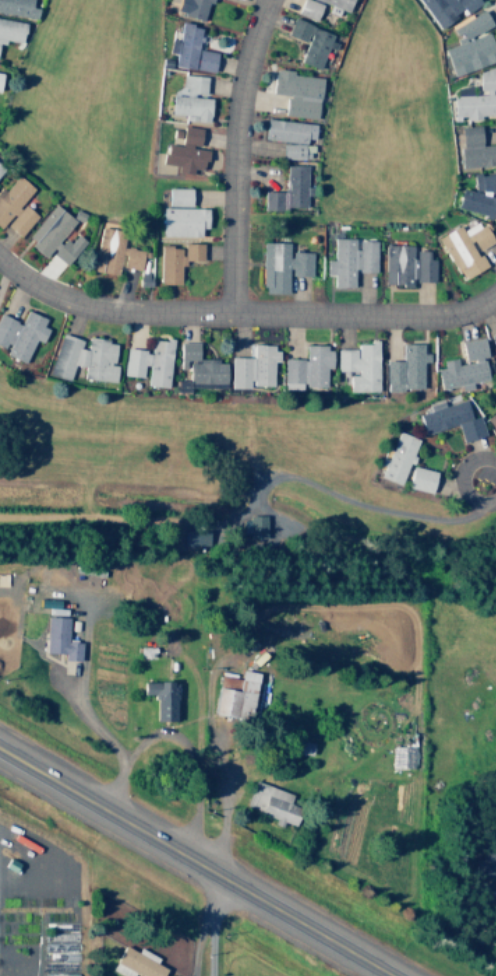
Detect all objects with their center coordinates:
building: (338, 4)
road: (262, 7)
road: (264, 7)
building: (18, 8)
building: (192, 8)
building: (308, 9)
building: (446, 9)
building: (11, 30)
building: (309, 41)
building: (470, 45)
building: (190, 49)
building: (0, 76)
building: (297, 92)
building: (478, 97)
building: (191, 99)
building: (289, 130)
building: (474, 147)
building: (296, 151)
building: (185, 152)
road: (234, 163)
building: (0, 168)
building: (484, 182)
building: (288, 190)
building: (178, 196)
building: (476, 202)
building: (15, 206)
building: (182, 221)
building: (48, 229)
building: (465, 248)
building: (66, 249)
building: (114, 252)
building: (176, 260)
building: (349, 260)
building: (397, 264)
building: (281, 266)
building: (423, 266)
road: (244, 315)
building: (20, 334)
building: (493, 337)
building: (83, 358)
building: (149, 363)
building: (464, 365)
building: (199, 366)
building: (358, 366)
building: (253, 367)
building: (306, 368)
building: (405, 368)
building: (451, 419)
building: (492, 419)
building: (398, 458)
building: (421, 479)
road: (460, 482)
building: (252, 526)
building: (194, 538)
building: (59, 639)
building: (235, 695)
building: (162, 699)
building: (271, 803)
road: (196, 861)
road: (208, 925)
building: (136, 963)

